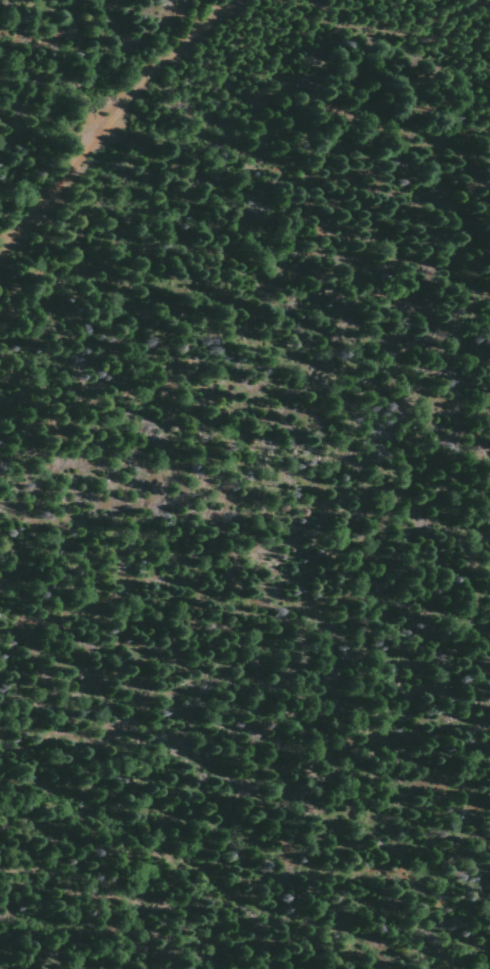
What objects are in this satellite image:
road: (106, 112)
road: (407, 662)

